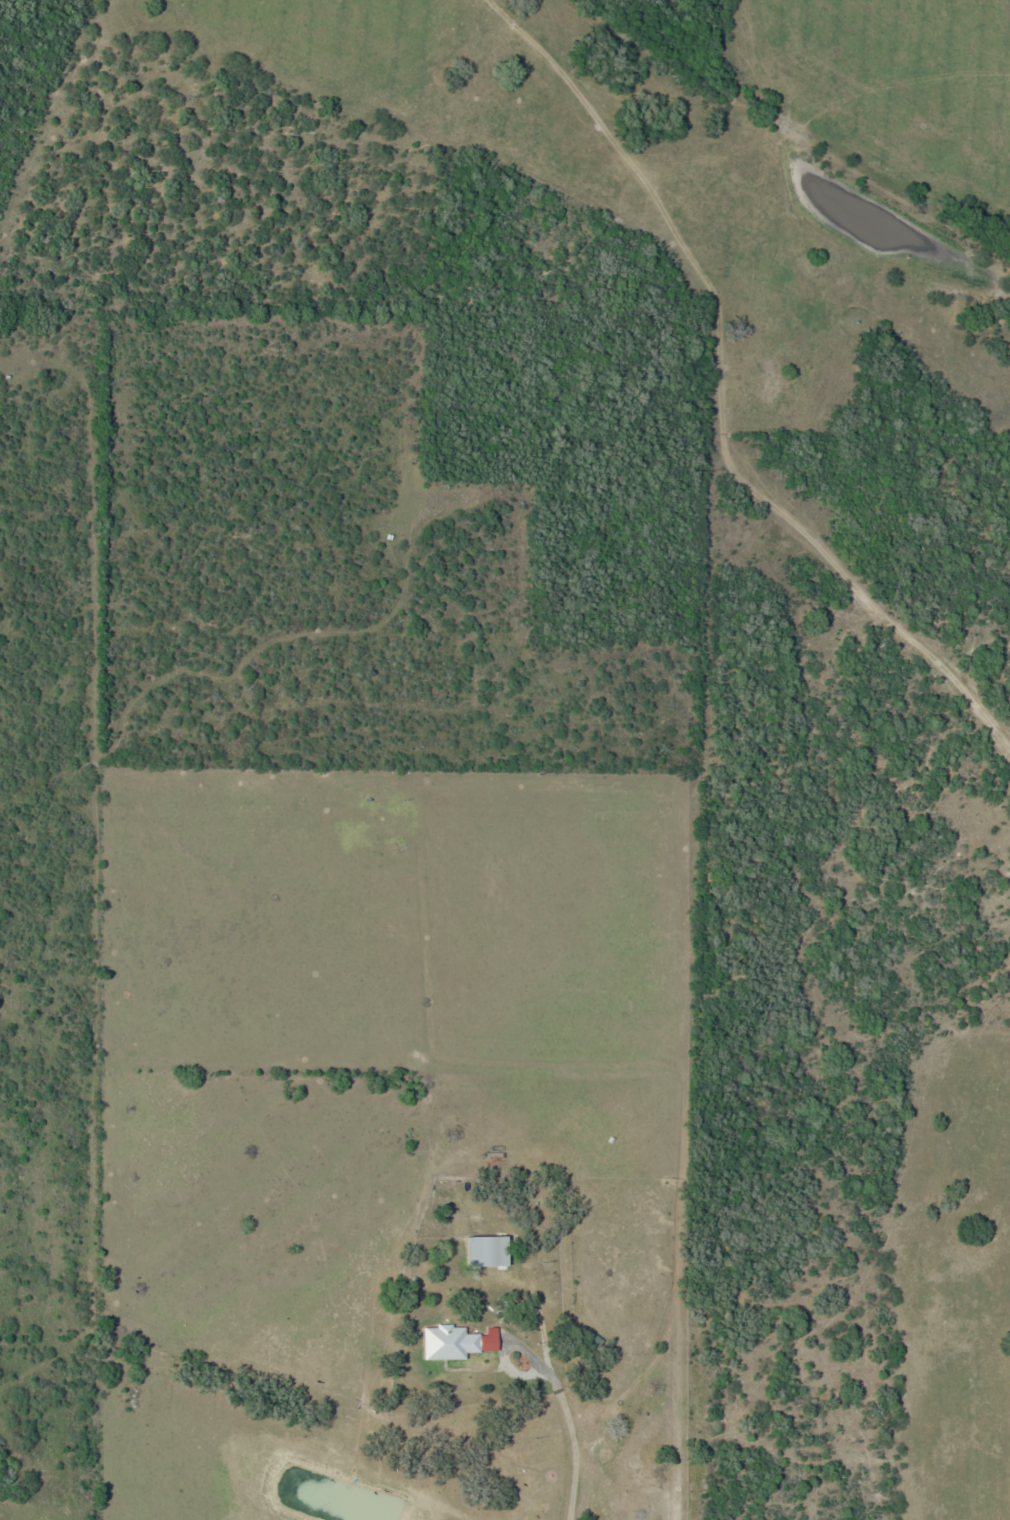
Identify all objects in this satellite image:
building: (487, 1246)
building: (457, 1337)
road: (573, 1446)

